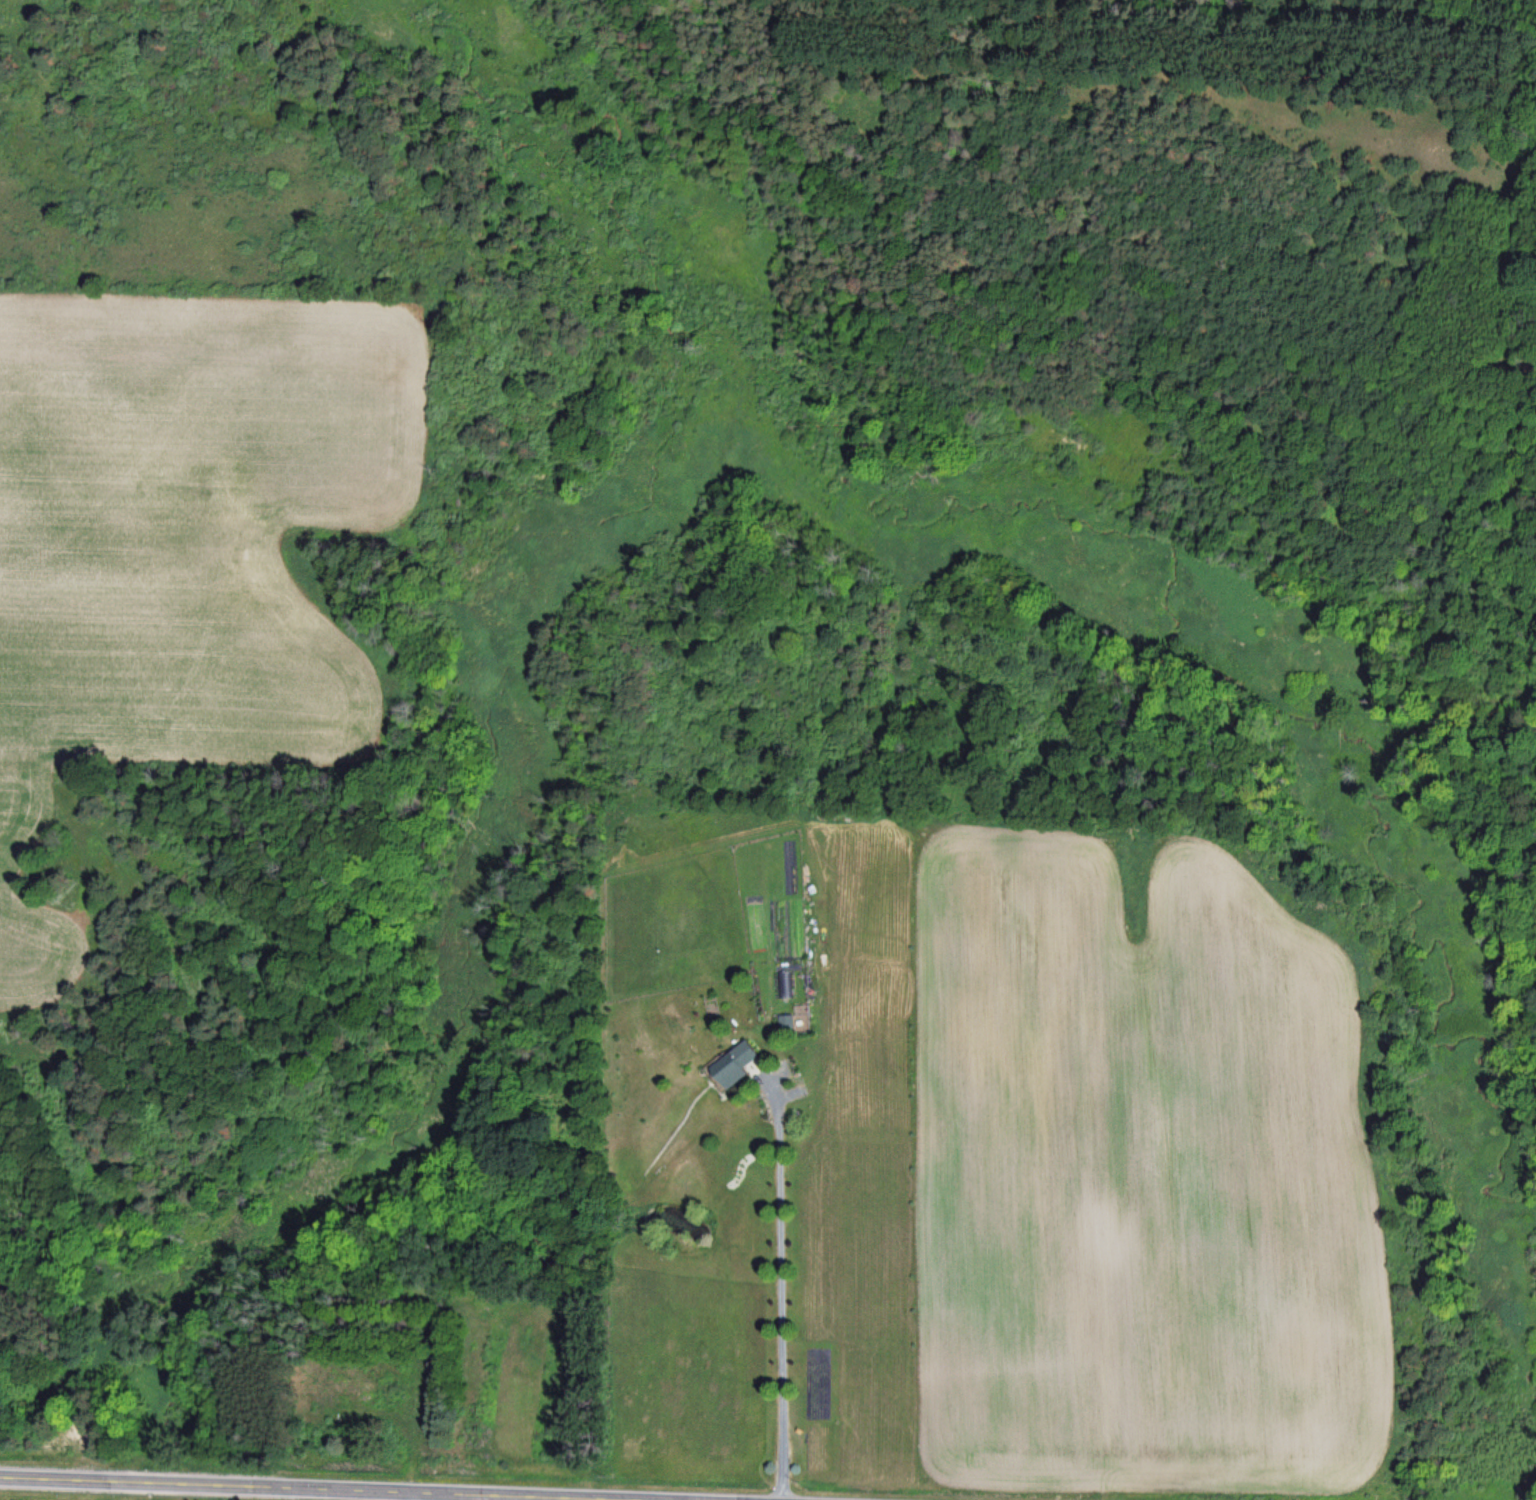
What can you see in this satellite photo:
building: (786, 1024)
building: (730, 1066)
road: (337, 1485)

